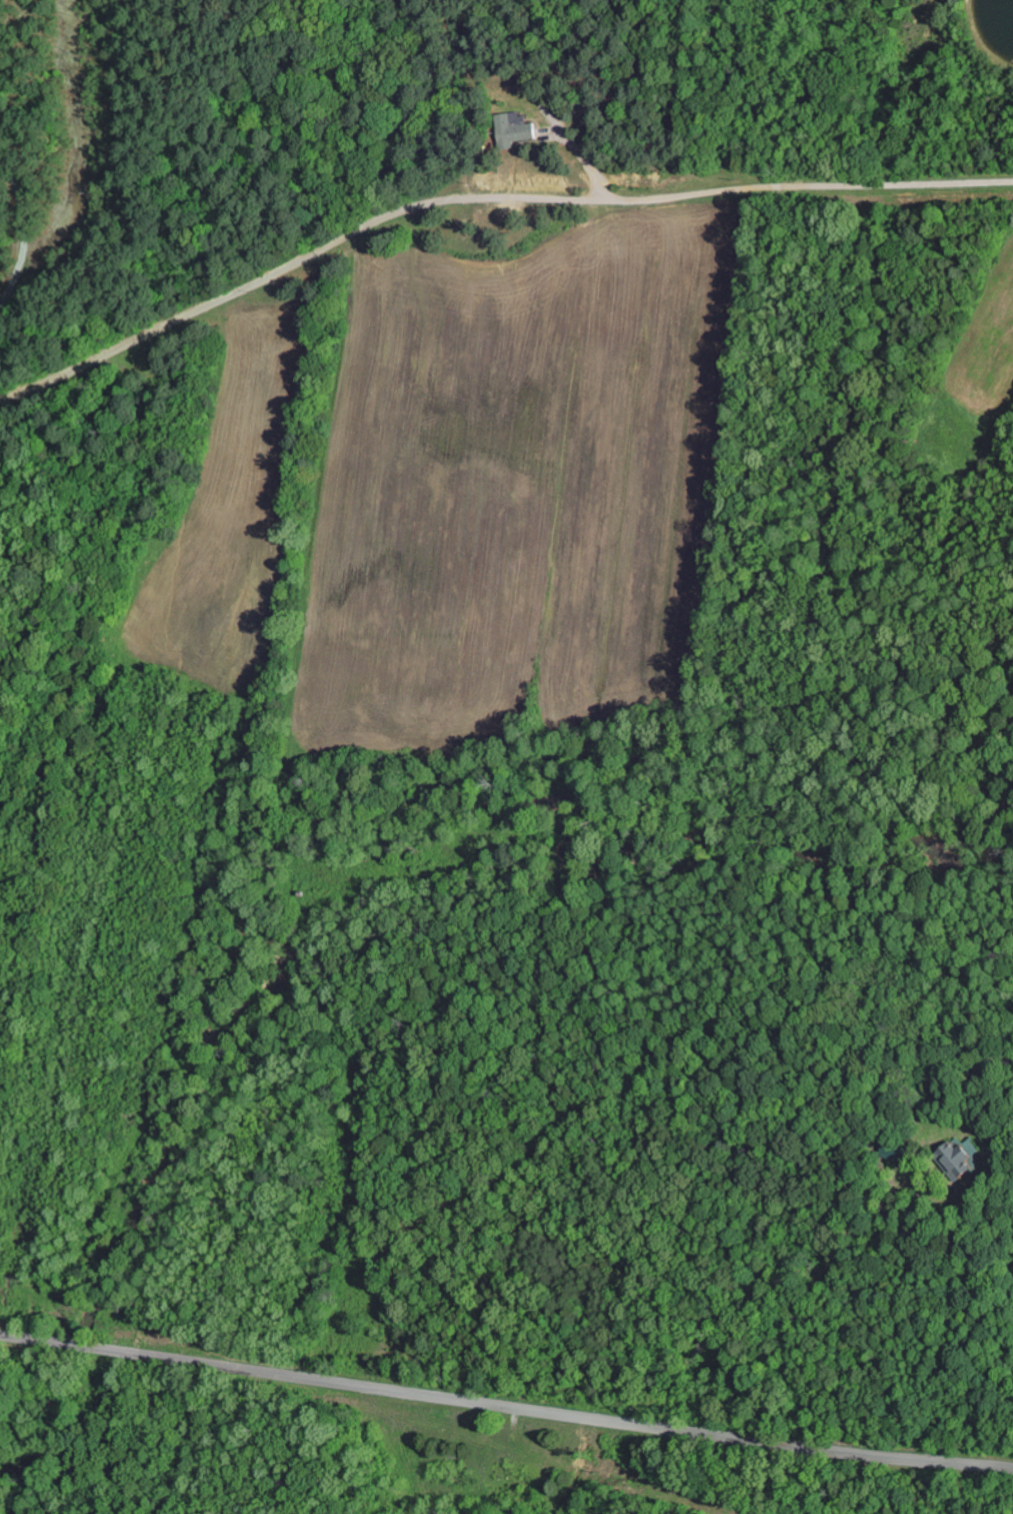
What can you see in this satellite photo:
road: (202, 18)
road: (144, 61)
building: (514, 130)
building: (957, 1158)
road: (505, 1406)
road: (360, 1450)

